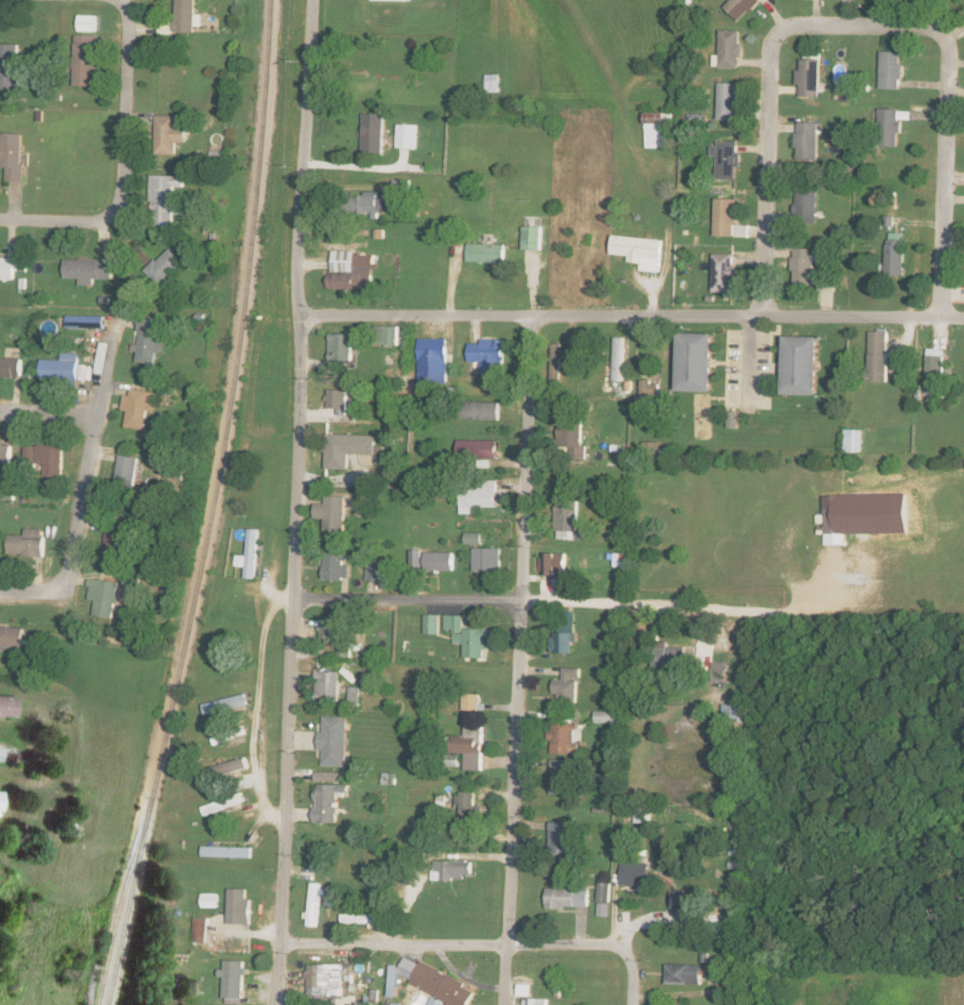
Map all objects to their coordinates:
building: (393, 0)
building: (741, 7)
building: (184, 16)
building: (86, 23)
road: (861, 27)
building: (730, 50)
building: (84, 60)
building: (9, 66)
building: (891, 70)
building: (810, 78)
building: (492, 83)
building: (729, 102)
building: (890, 128)
building: (656, 130)
building: (372, 134)
building: (168, 135)
building: (405, 136)
building: (808, 142)
building: (12, 156)
building: (726, 160)
road: (124, 161)
road: (362, 169)
building: (165, 199)
building: (366, 205)
building: (807, 206)
building: (728, 219)
building: (532, 238)
building: (640, 251)
building: (486, 253)
building: (896, 255)
building: (164, 266)
building: (804, 267)
building: (7, 268)
building: (87, 270)
building: (351, 271)
building: (724, 273)
road: (633, 318)
building: (84, 322)
building: (386, 335)
building: (149, 340)
building: (341, 347)
building: (489, 356)
building: (879, 357)
building: (618, 360)
building: (433, 361)
building: (557, 362)
building: (697, 363)
building: (802, 366)
building: (10, 368)
building: (61, 370)
building: (936, 371)
building: (650, 392)
building: (337, 399)
building: (138, 408)
building: (482, 411)
road: (47, 414)
building: (733, 420)
building: (573, 436)
building: (855, 441)
building: (346, 448)
building: (651, 448)
building: (478, 449)
road: (89, 455)
building: (5, 456)
building: (46, 459)
building: (127, 472)
building: (480, 496)
road: (297, 501)
railway: (210, 506)
building: (332, 512)
building: (569, 520)
building: (835, 525)
building: (474, 538)
building: (115, 540)
building: (27, 542)
building: (249, 554)
building: (417, 558)
building: (488, 559)
building: (441, 561)
building: (554, 562)
building: (335, 564)
building: (378, 570)
building: (131, 580)
building: (104, 596)
road: (35, 599)
road: (543, 604)
building: (432, 623)
building: (331, 629)
building: (566, 633)
building: (12, 636)
building: (468, 636)
building: (344, 649)
building: (669, 655)
road: (520, 661)
building: (720, 668)
building: (327, 685)
building: (568, 685)
building: (354, 693)
building: (472, 701)
building: (225, 703)
building: (7, 706)
building: (734, 712)
road: (258, 716)
building: (606, 716)
building: (565, 738)
building: (333, 740)
building: (471, 746)
road: (13, 763)
building: (233, 766)
building: (330, 776)
building: (560, 776)
building: (0, 794)
building: (327, 802)
building: (223, 803)
building: (467, 805)
building: (643, 814)
building: (559, 837)
building: (227, 851)
building: (451, 869)
building: (635, 873)
building: (567, 897)
building: (603, 898)
building: (209, 899)
building: (686, 900)
building: (239, 906)
building: (367, 914)
railway: (115, 916)
building: (201, 929)
road: (465, 949)
building: (684, 973)
building: (324, 979)
building: (233, 981)
building: (431, 982)
road: (952, 984)
building: (524, 989)
road: (632, 990)
building: (436, 1001)
building: (535, 1001)

